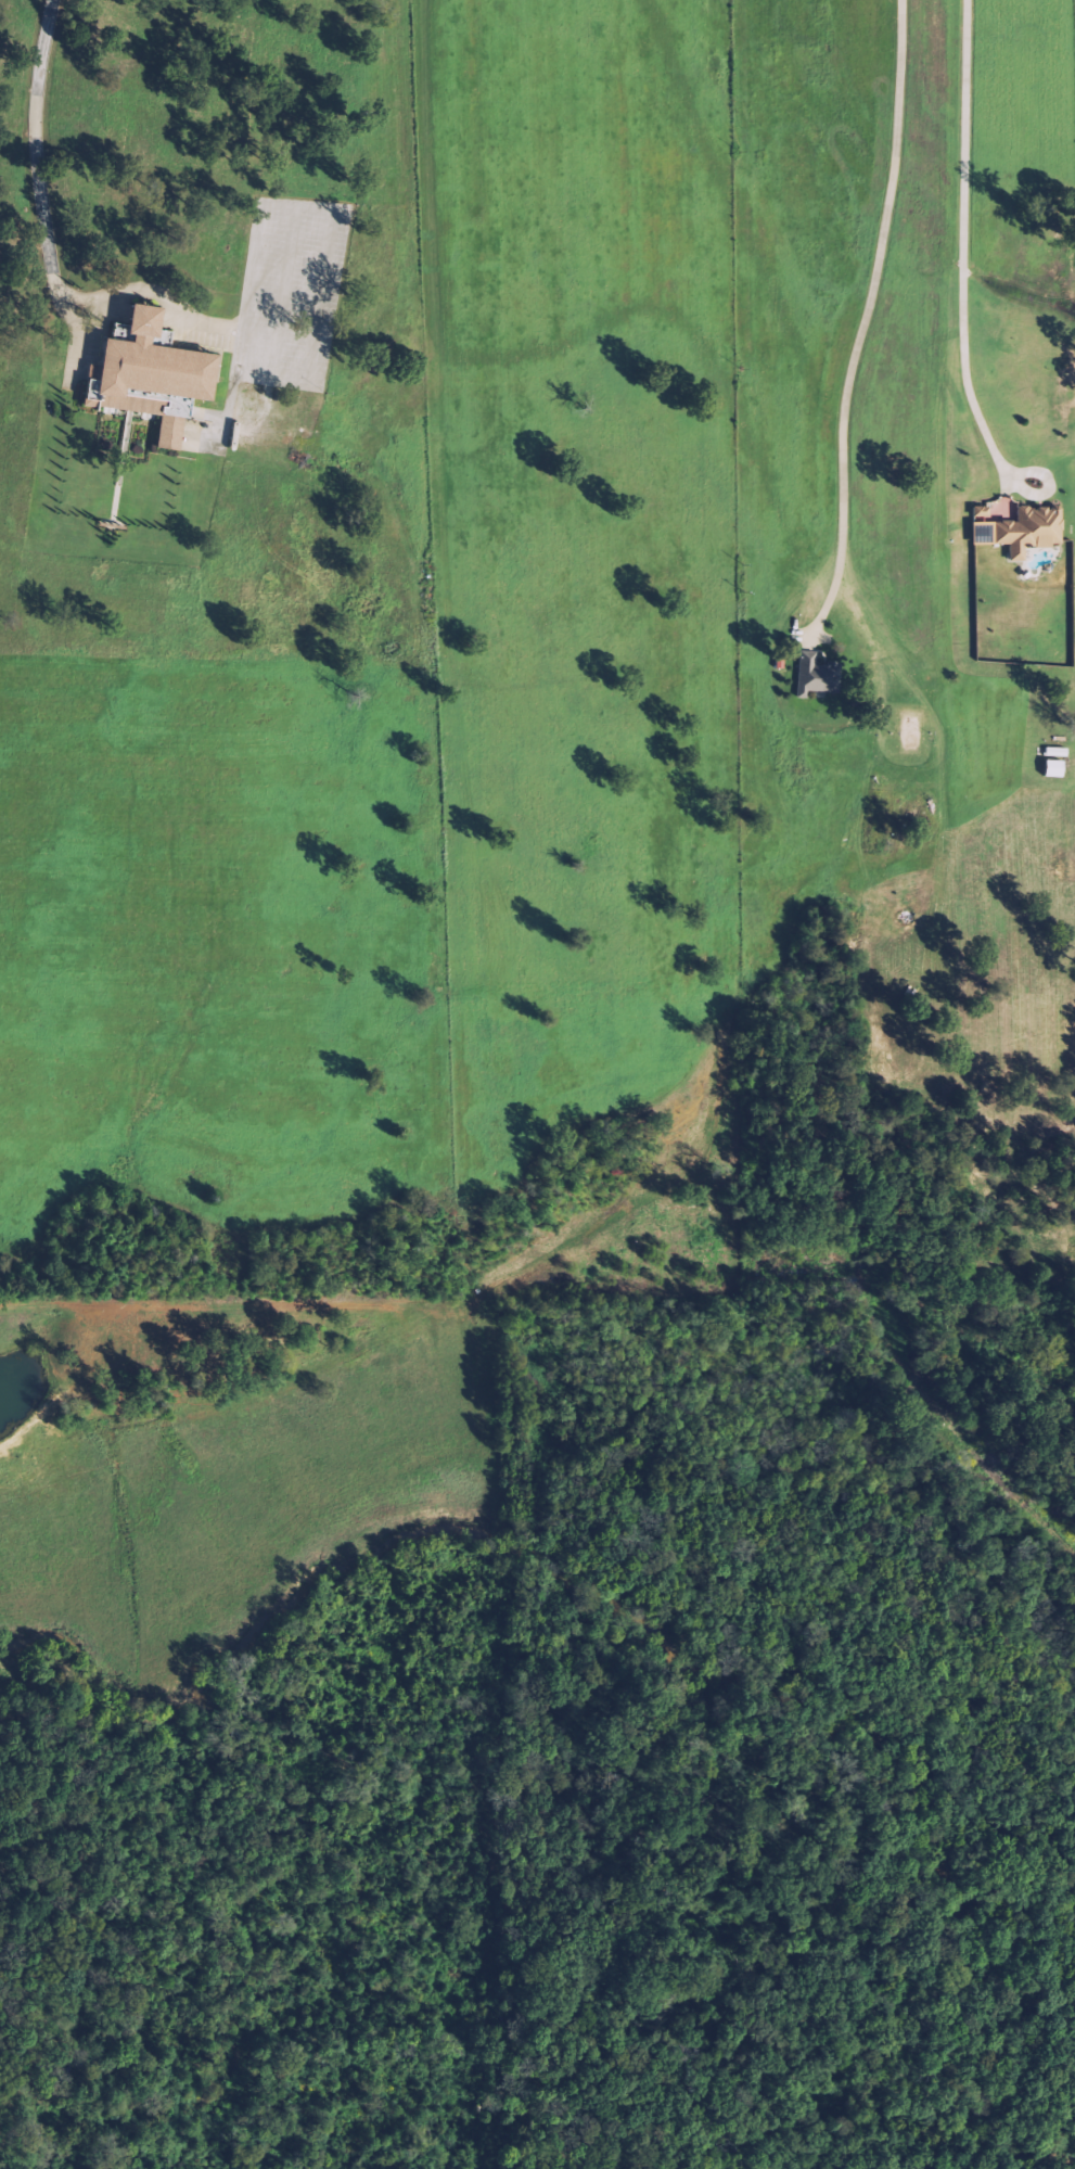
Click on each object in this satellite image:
road: (958, 240)
road: (48, 243)
road: (325, 253)
building: (154, 373)
road: (1044, 486)
building: (1019, 532)
building: (811, 675)

